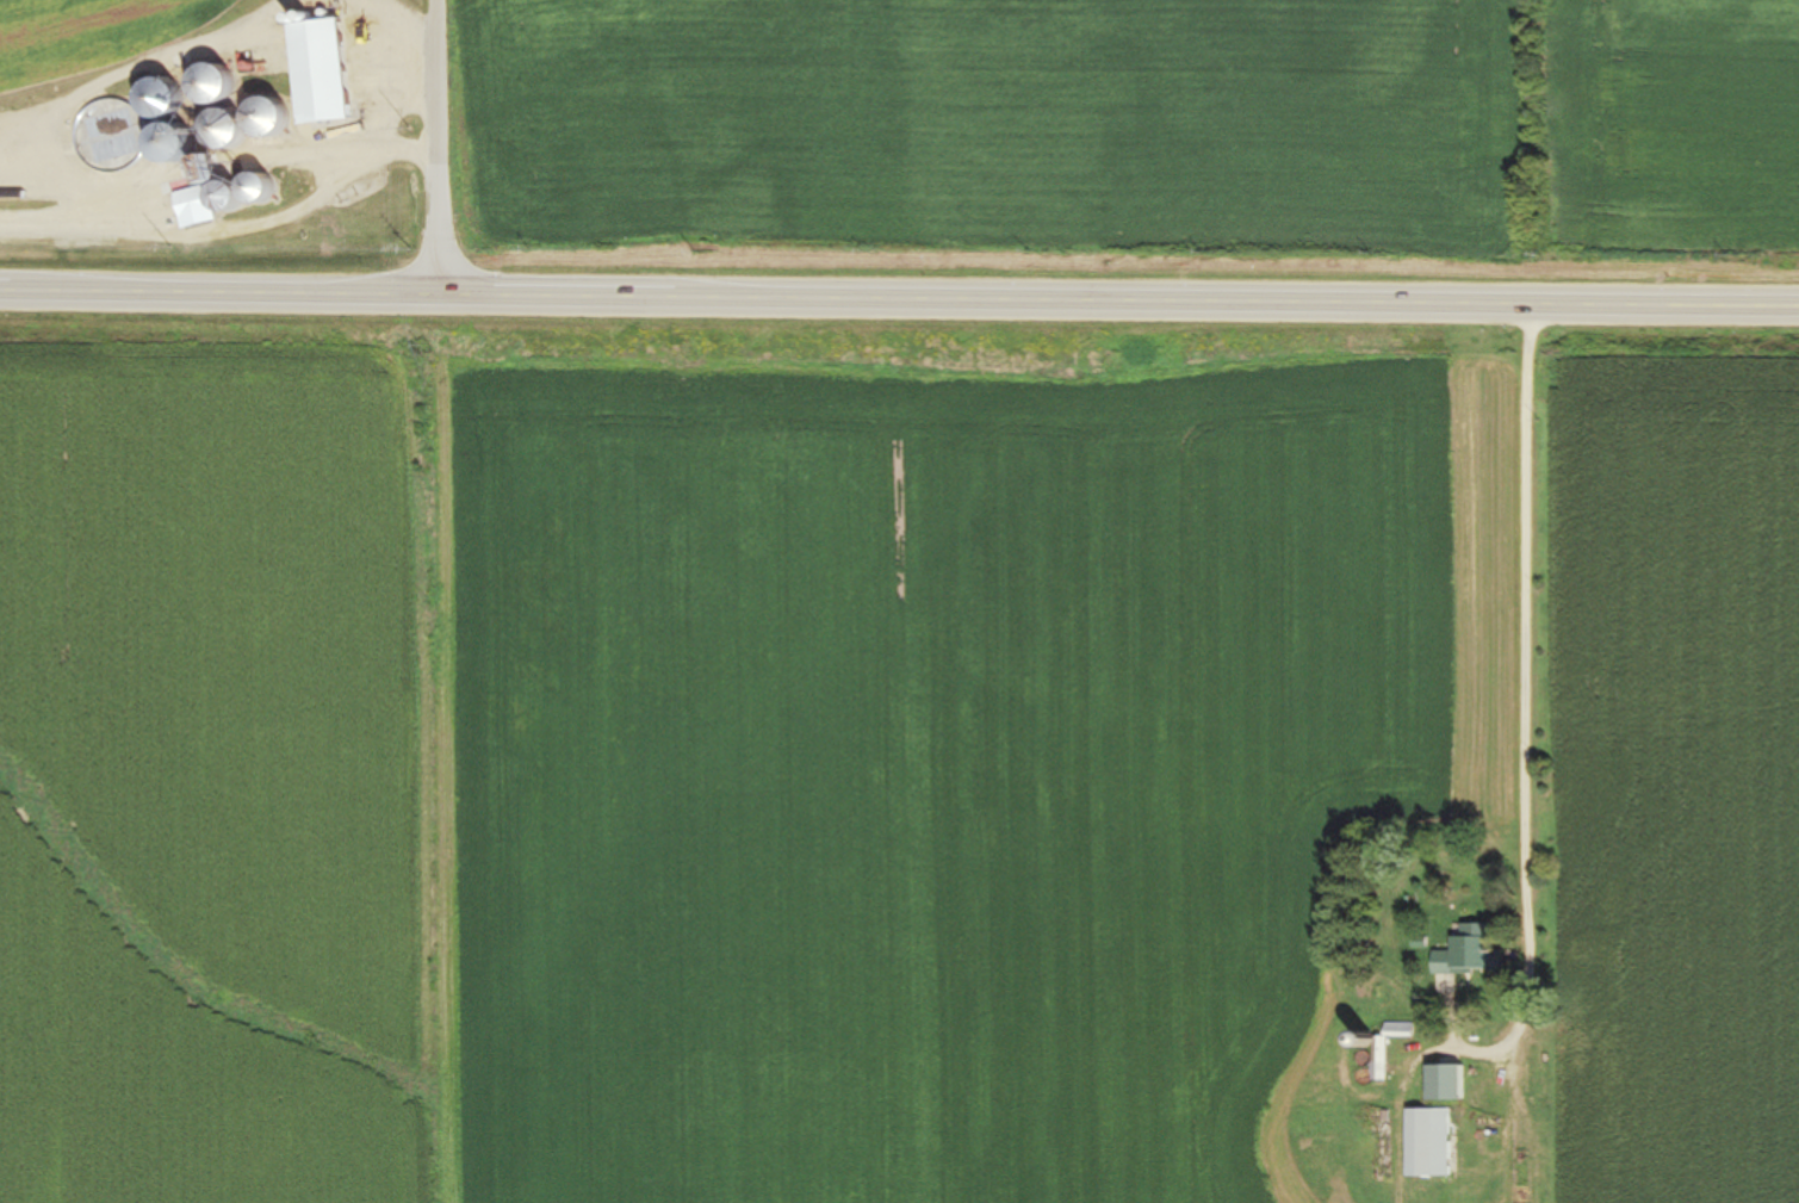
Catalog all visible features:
building: (316, 74)
building: (205, 85)
building: (261, 117)
building: (223, 126)
building: (170, 134)
road: (438, 149)
building: (252, 185)
building: (200, 204)
road: (899, 299)
road: (1530, 625)
building: (1468, 959)
building: (1379, 1060)
building: (1441, 1084)
building: (1423, 1143)

